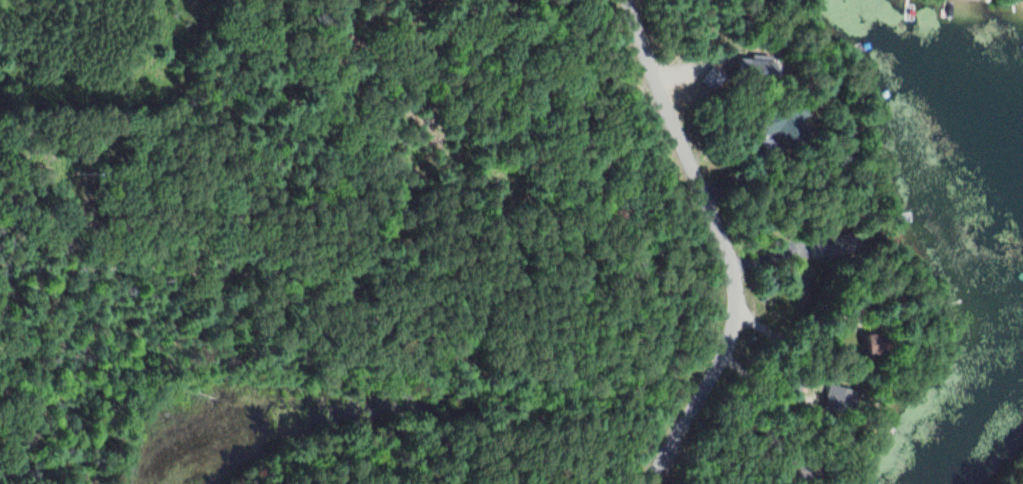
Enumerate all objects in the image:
building: (751, 67)
building: (780, 124)
road: (716, 244)
building: (829, 245)
building: (859, 301)
building: (870, 342)
building: (838, 399)
building: (791, 468)

